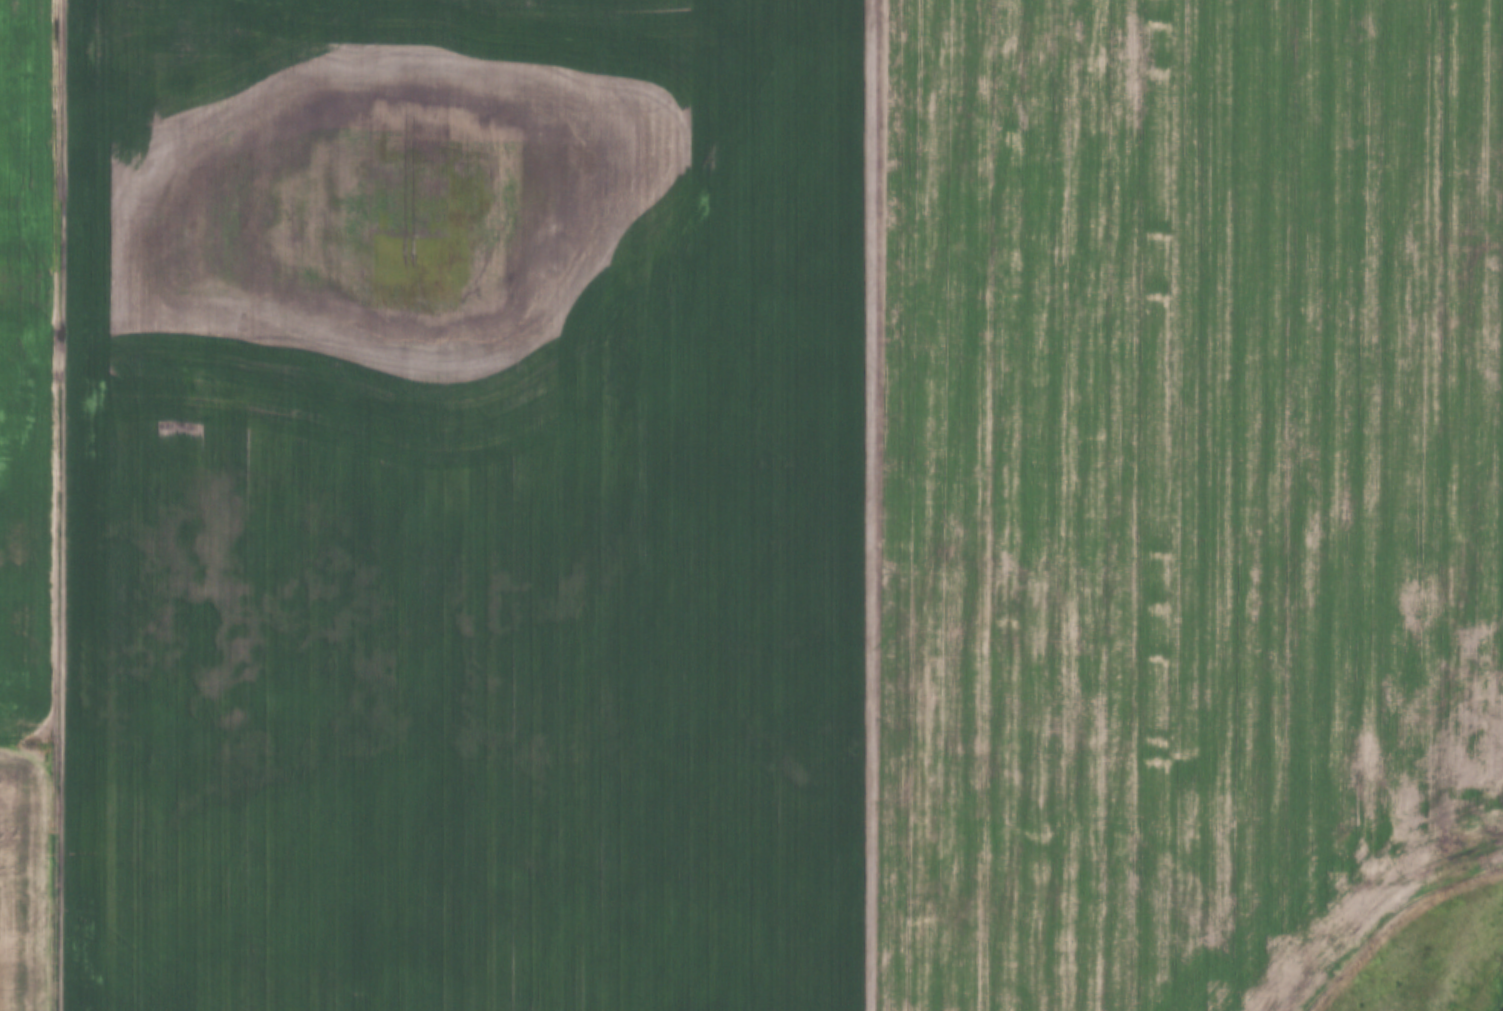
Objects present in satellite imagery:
road: (59, 505)

